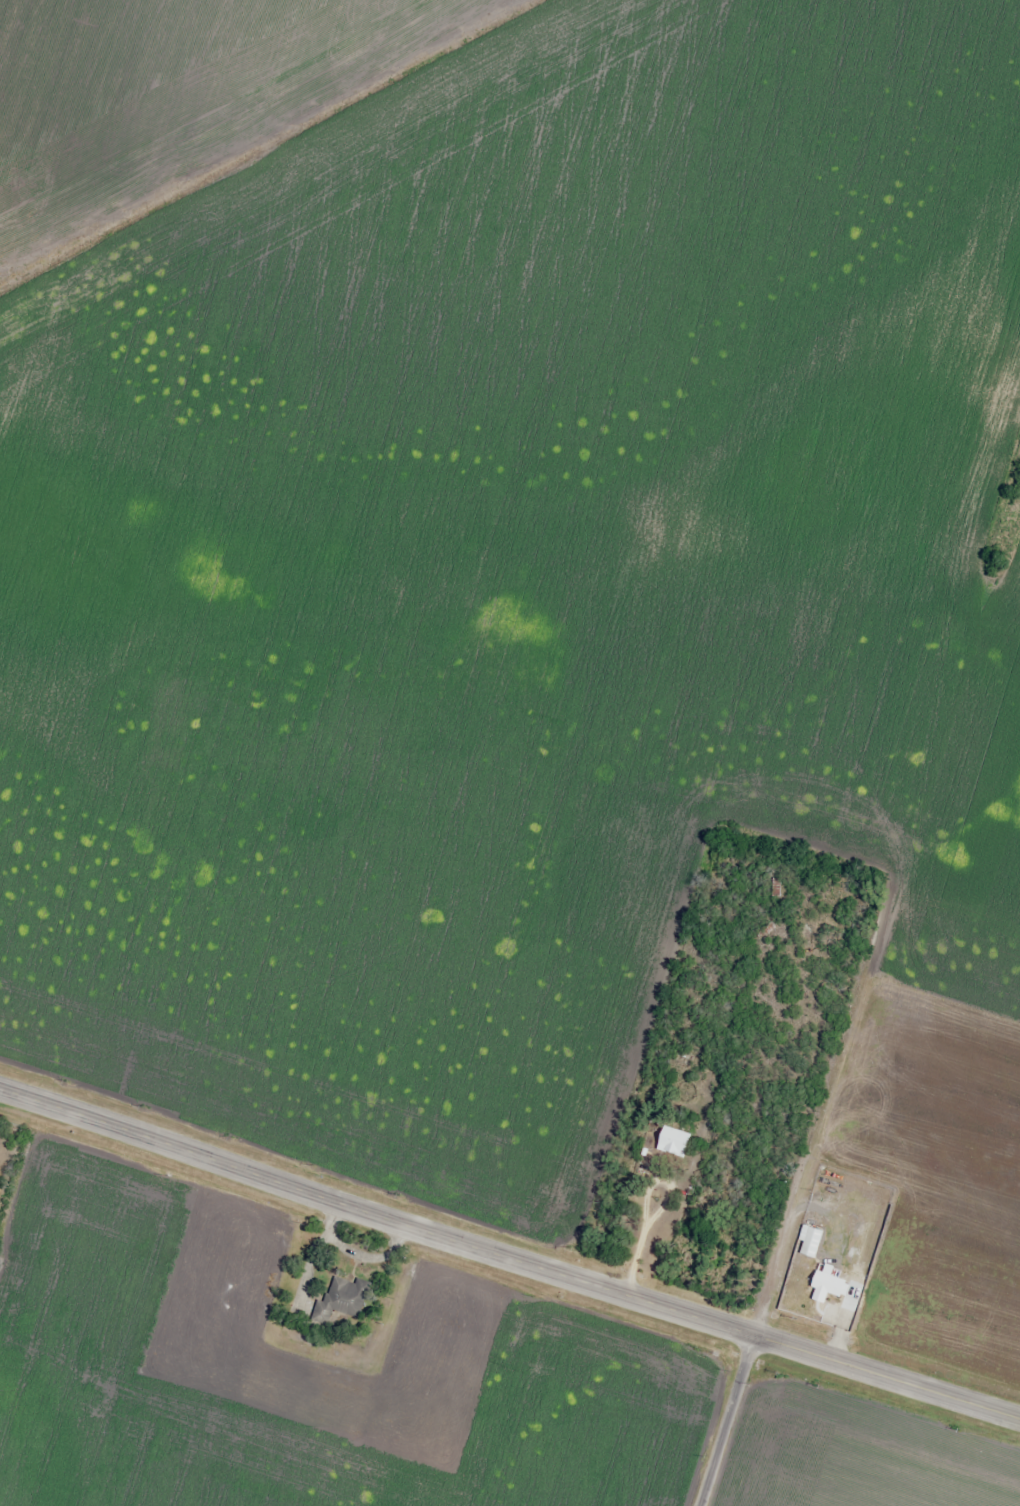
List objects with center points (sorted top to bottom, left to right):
building: (682, 1058)
road: (846, 1068)
building: (665, 1141)
road: (376, 1214)
building: (807, 1242)
building: (826, 1284)
building: (339, 1300)
road: (886, 1376)

